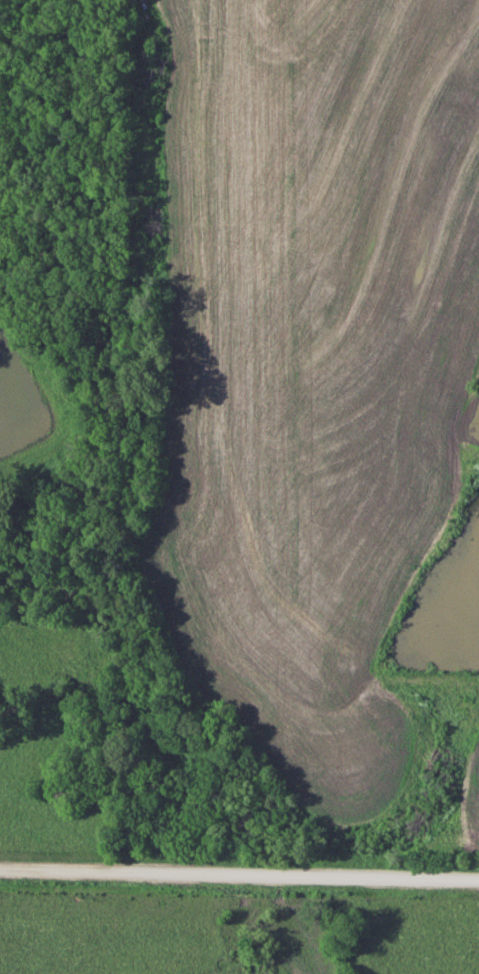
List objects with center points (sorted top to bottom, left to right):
road: (239, 871)

